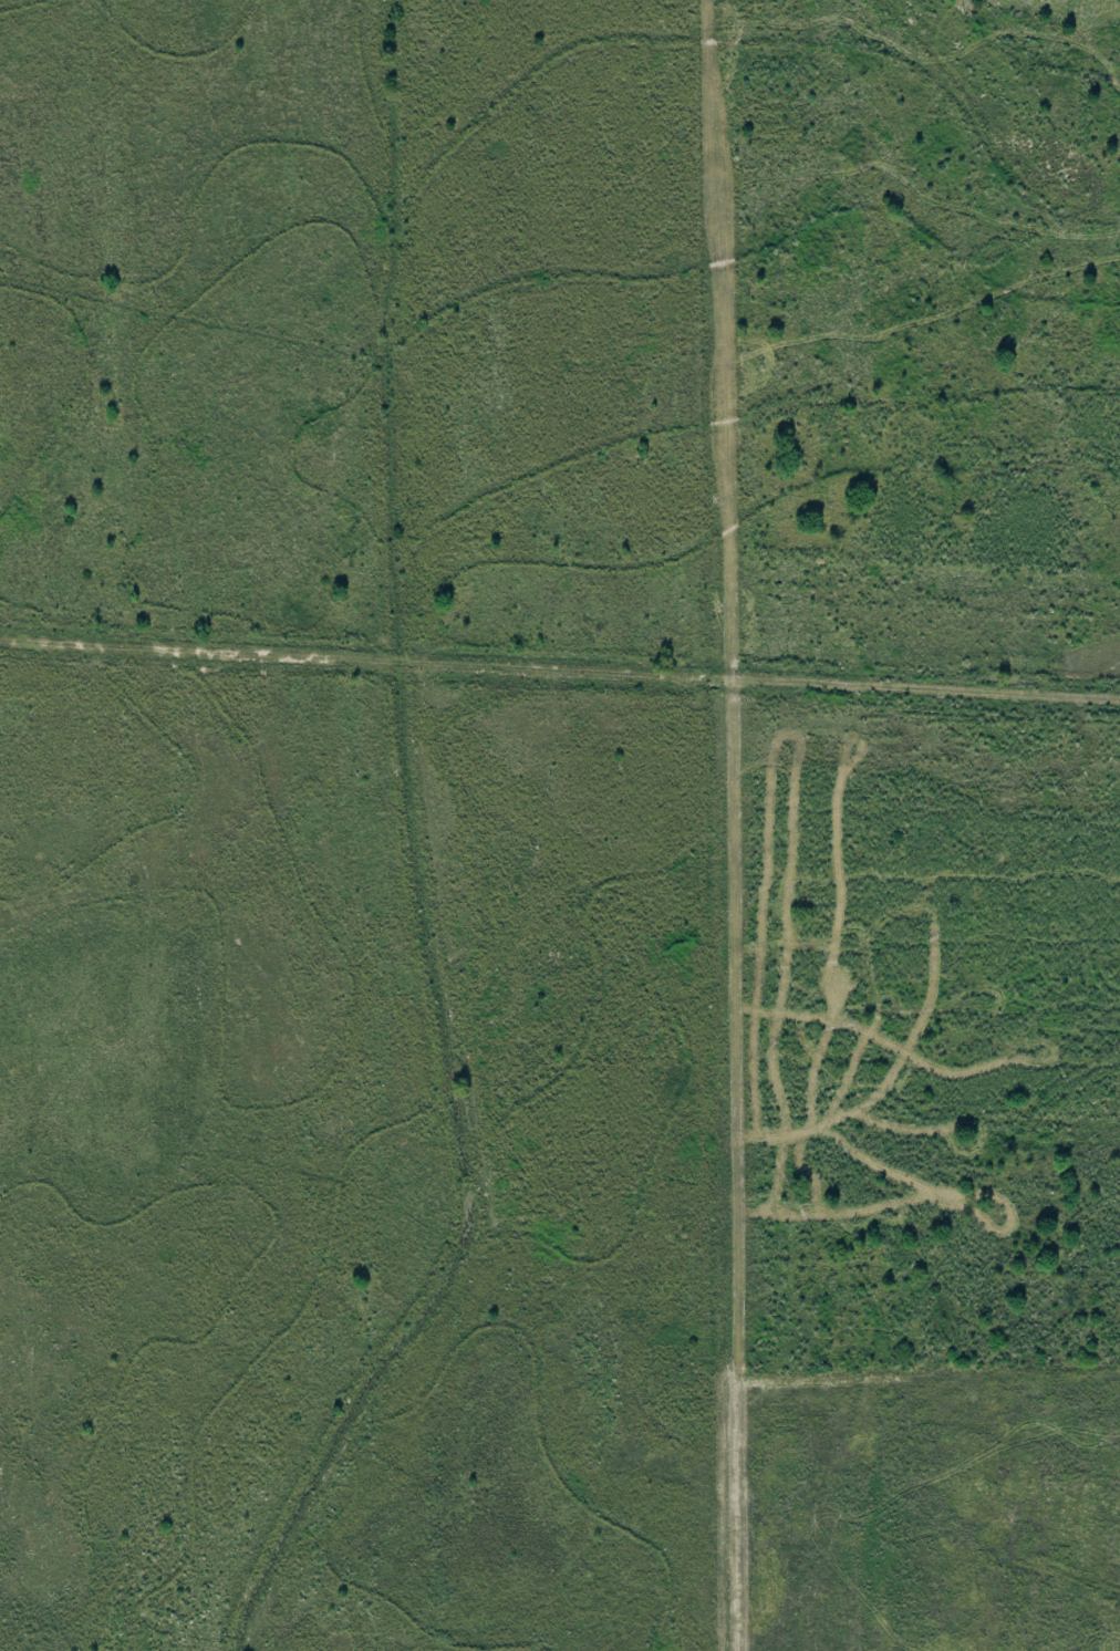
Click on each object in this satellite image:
railway: (560, 1136)

